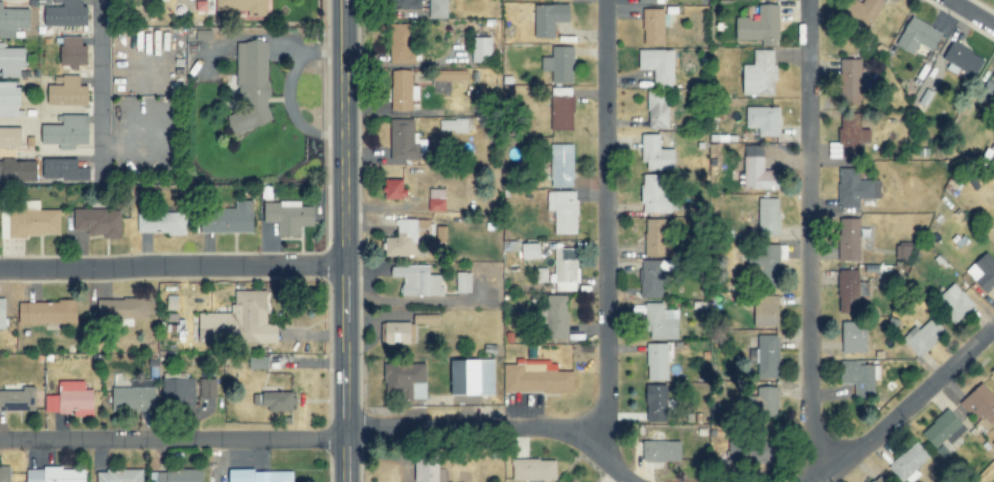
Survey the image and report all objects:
building: (561, 0)
building: (650, 1)
building: (407, 4)
building: (438, 9)
road: (974, 10)
building: (861, 12)
building: (65, 13)
building: (549, 19)
building: (14, 21)
building: (654, 26)
building: (761, 26)
building: (918, 36)
building: (403, 44)
building: (482, 50)
building: (73, 52)
building: (11, 61)
building: (559, 64)
building: (658, 66)
building: (760, 74)
building: (451, 75)
building: (851, 81)
building: (252, 87)
road: (102, 91)
building: (402, 91)
building: (987, 91)
building: (67, 92)
building: (9, 99)
building: (658, 110)
building: (561, 113)
building: (763, 120)
building: (453, 126)
building: (66, 131)
building: (10, 137)
building: (847, 138)
building: (405, 141)
building: (656, 154)
building: (561, 165)
building: (64, 170)
building: (757, 170)
building: (18, 171)
building: (856, 188)
building: (394, 190)
building: (655, 195)
building: (436, 200)
building: (563, 211)
building: (289, 217)
building: (768, 217)
building: (228, 219)
road: (604, 219)
building: (33, 220)
building: (98, 222)
building: (161, 223)
building: (405, 237)
building: (657, 237)
building: (849, 239)
road: (341, 241)
road: (810, 241)
building: (511, 247)
building: (531, 251)
building: (903, 252)
building: (770, 264)
road: (170, 265)
building: (564, 269)
building: (983, 272)
building: (654, 276)
building: (417, 281)
building: (463, 282)
building: (849, 291)
building: (954, 303)
building: (127, 310)
building: (766, 311)
building: (47, 312)
building: (2, 314)
building: (556, 317)
building: (255, 319)
building: (660, 322)
building: (214, 326)
building: (396, 333)
building: (923, 337)
building: (854, 338)
building: (767, 356)
building: (657, 362)
building: (992, 372)
building: (473, 378)
building: (536, 378)
building: (861, 378)
building: (405, 379)
building: (207, 388)
building: (179, 389)
building: (71, 399)
building: (133, 399)
building: (769, 399)
building: (18, 400)
building: (274, 401)
building: (656, 403)
building: (978, 404)
road: (906, 405)
building: (943, 432)
road: (329, 438)
building: (662, 451)
building: (751, 452)
building: (910, 463)
building: (426, 469)
building: (534, 470)
building: (5, 474)
building: (56, 475)
building: (120, 476)
building: (177, 476)
building: (259, 476)
building: (878, 479)
building: (573, 481)

